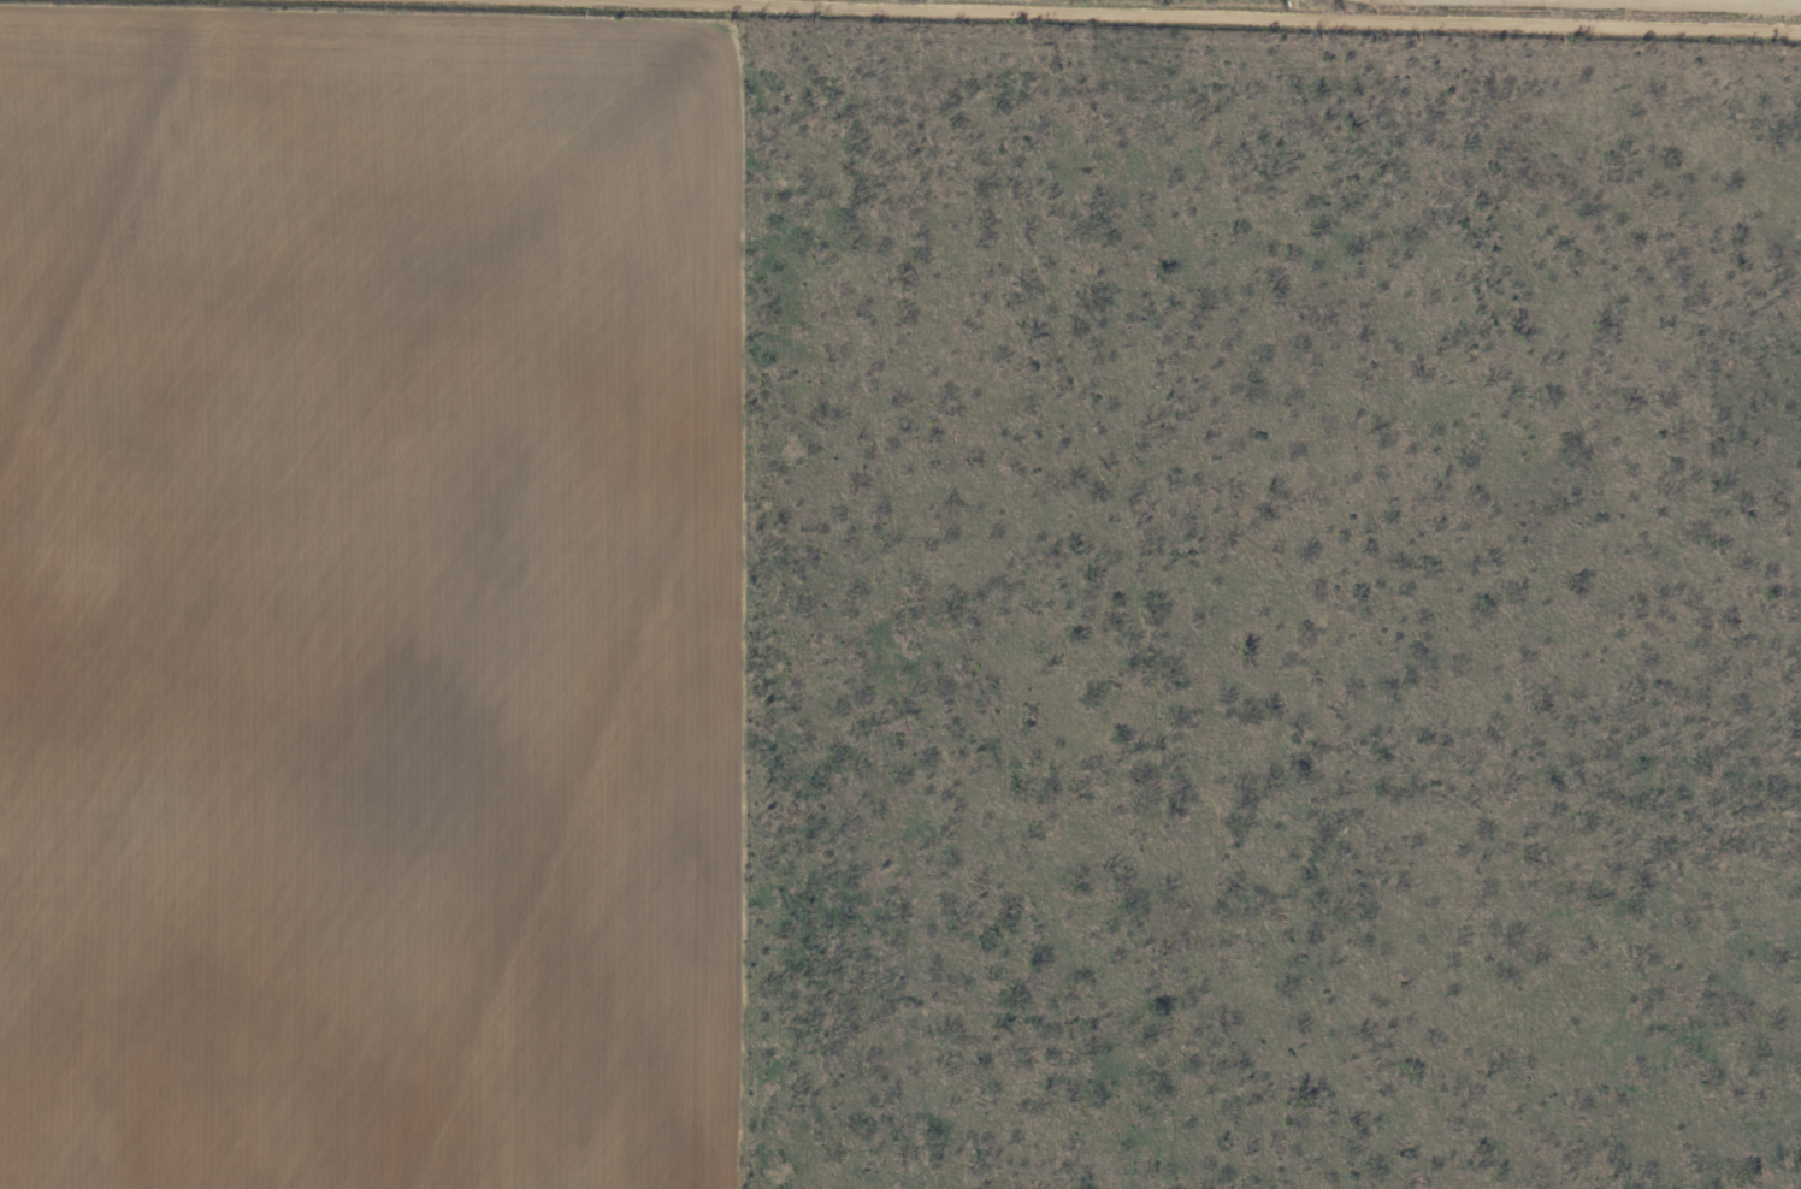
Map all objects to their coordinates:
road: (1268, 14)

